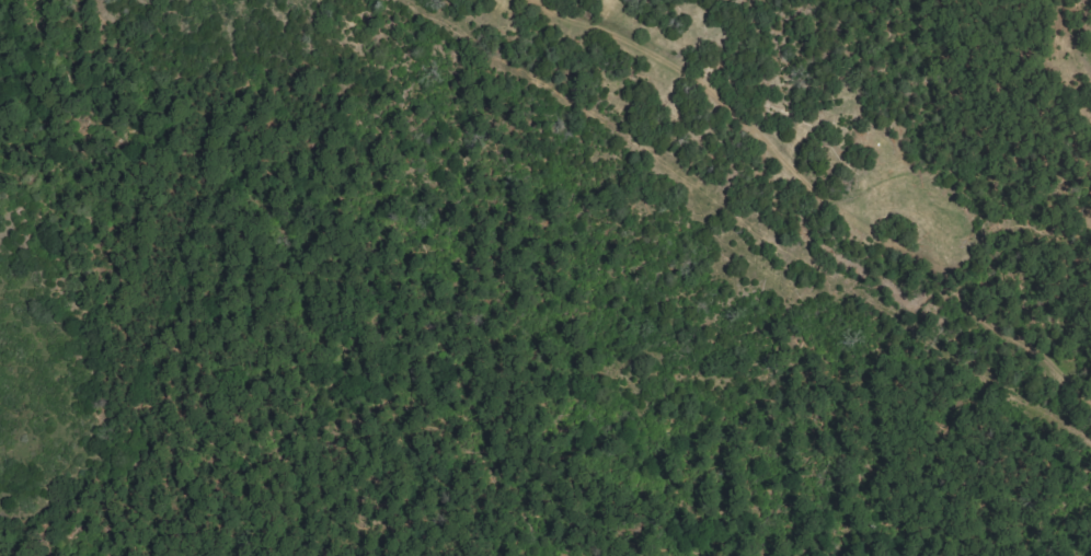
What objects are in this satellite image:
road: (823, 190)

